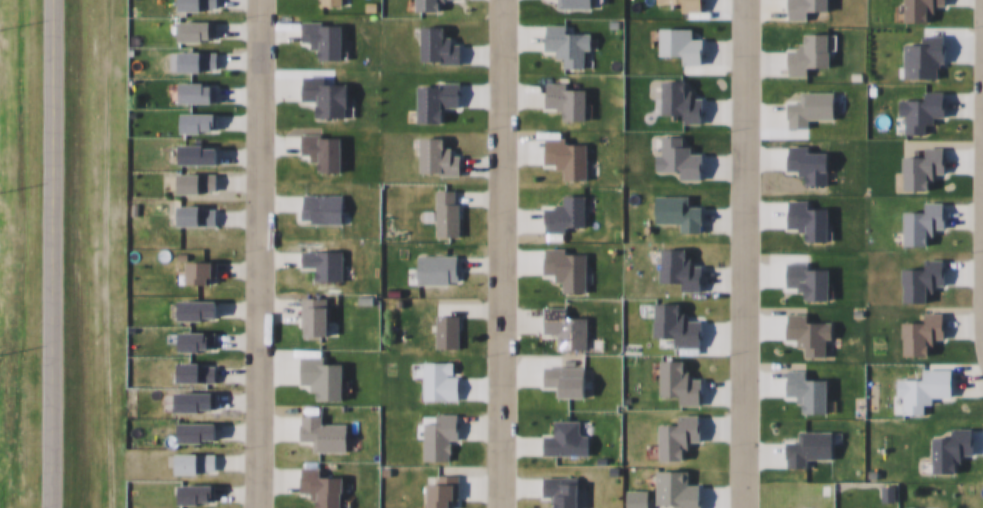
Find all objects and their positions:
road: (979, 175)
road: (51, 253)
road: (246, 254)
road: (490, 254)
road: (732, 254)

